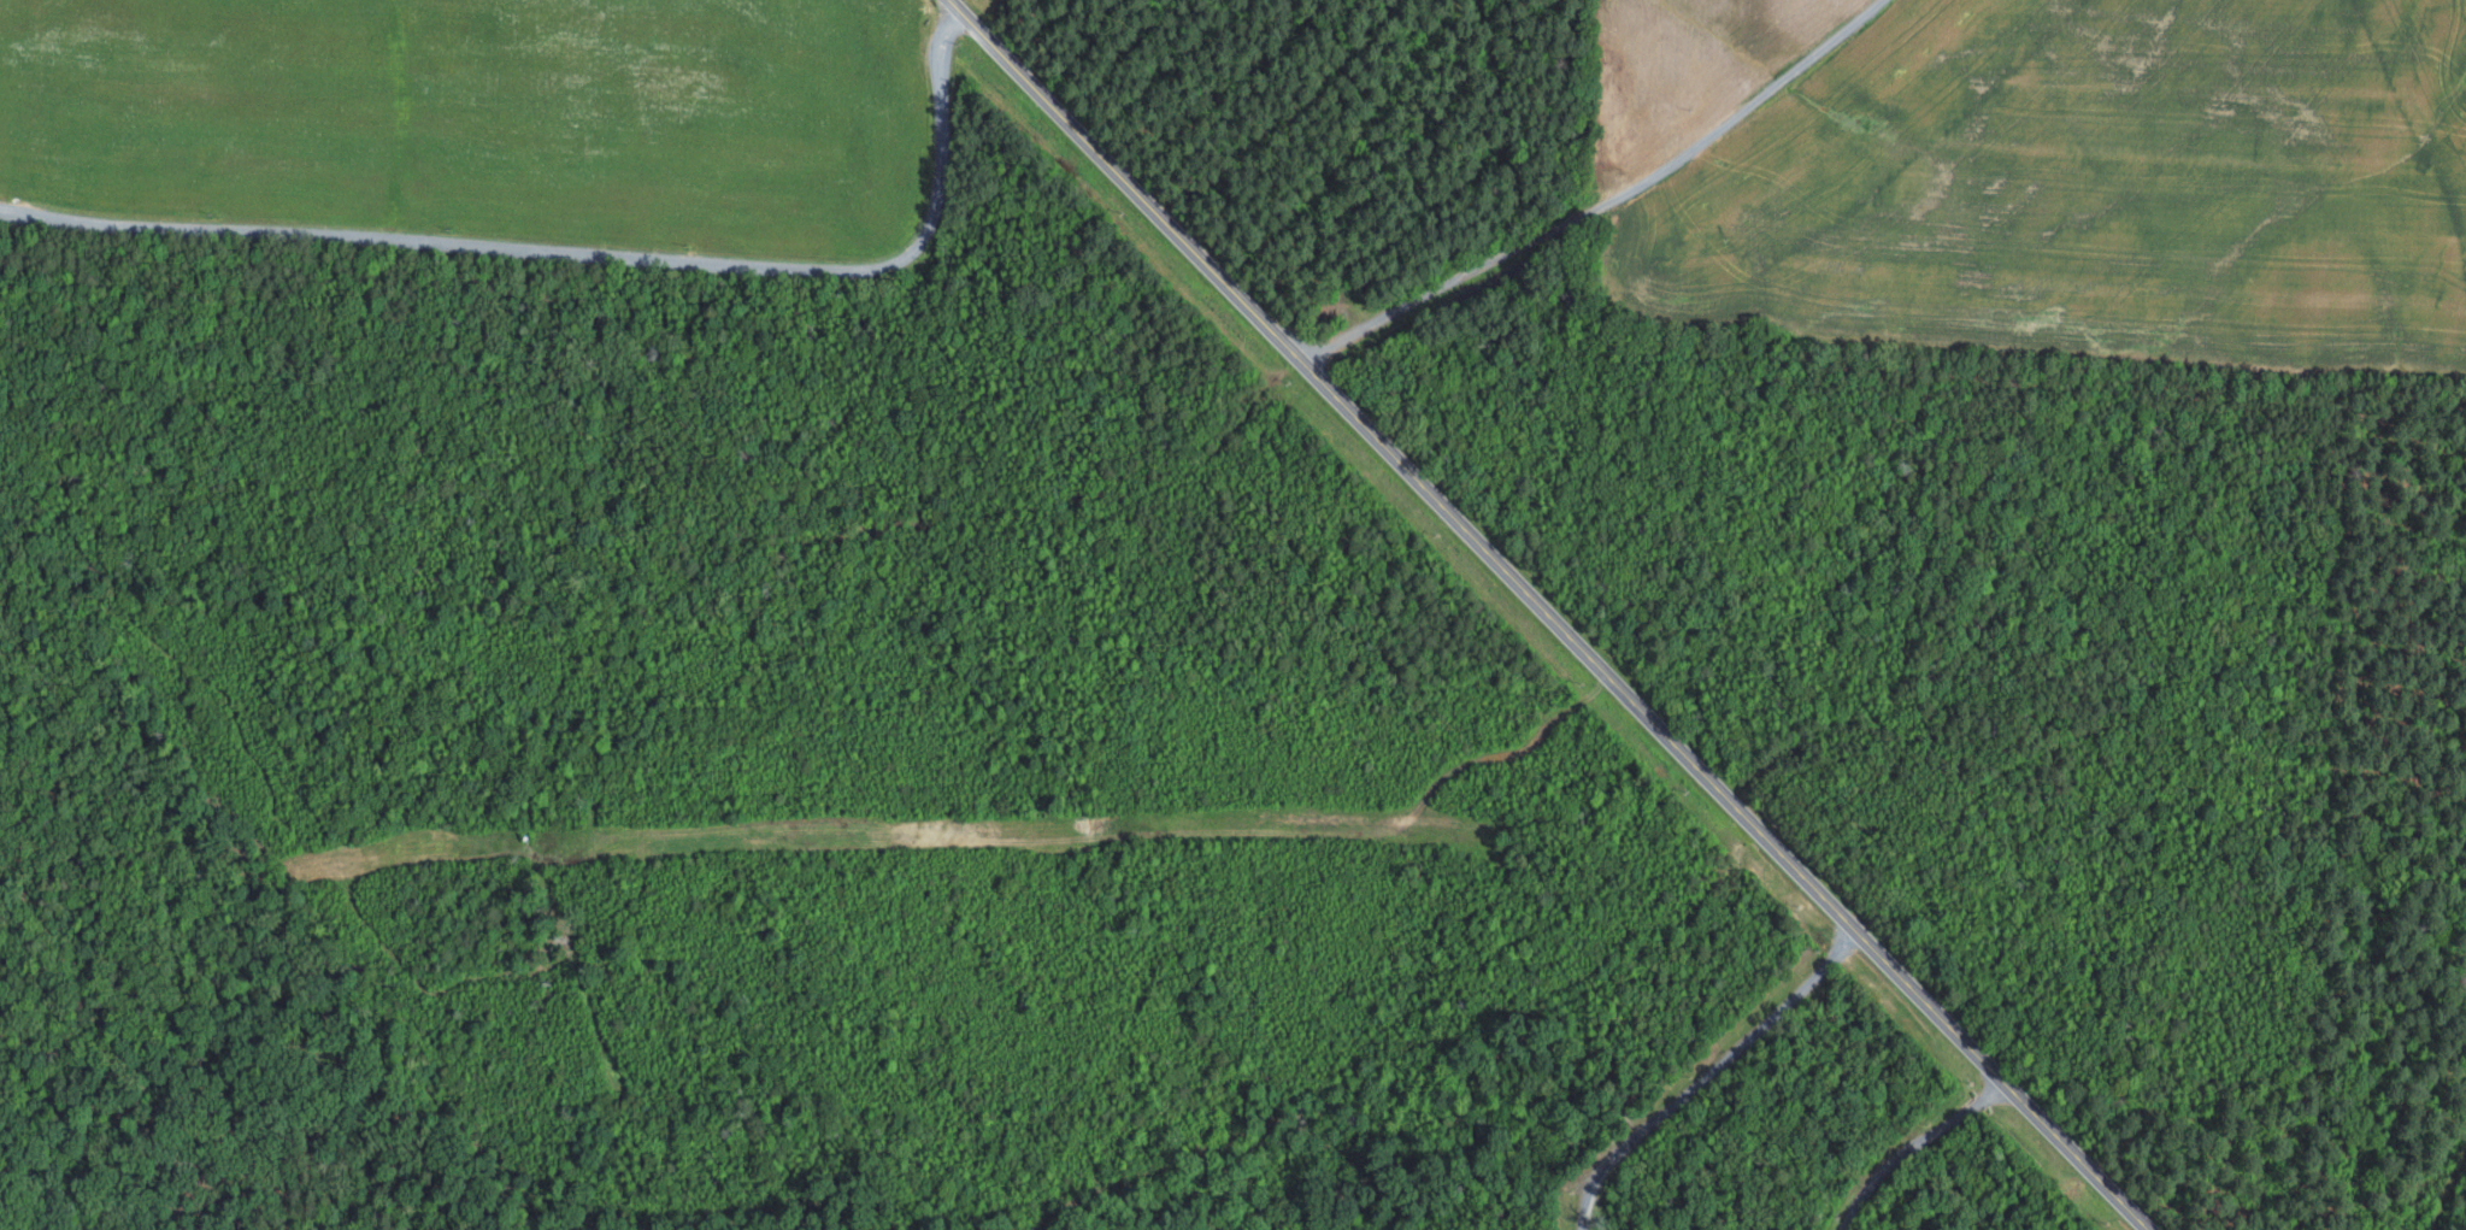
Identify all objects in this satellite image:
road: (1601, 204)
road: (583, 255)
road: (875, 335)
road: (1547, 626)
road: (1238, 776)
road: (1707, 1075)
road: (1914, 1143)
road: (2433, 1165)

